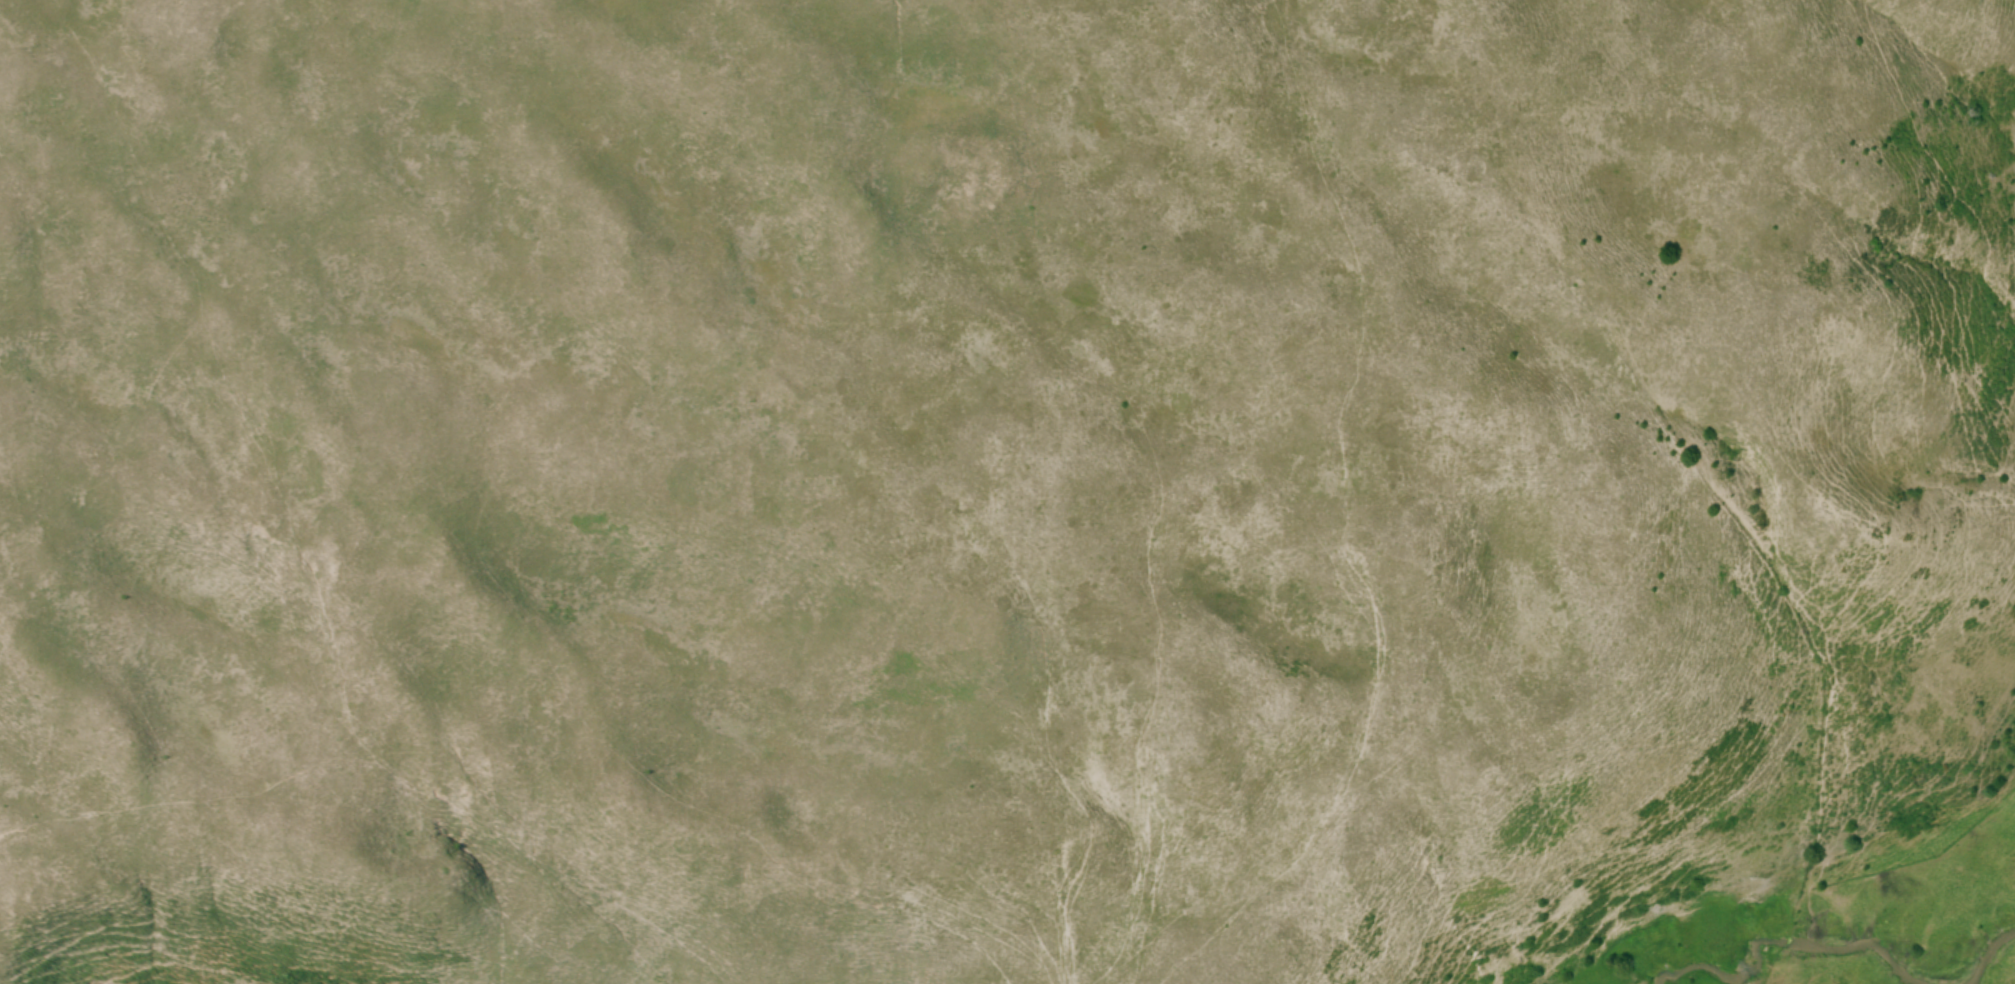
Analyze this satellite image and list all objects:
park: (2000, 856)
river: (1783, 946)
river: (1982, 960)

